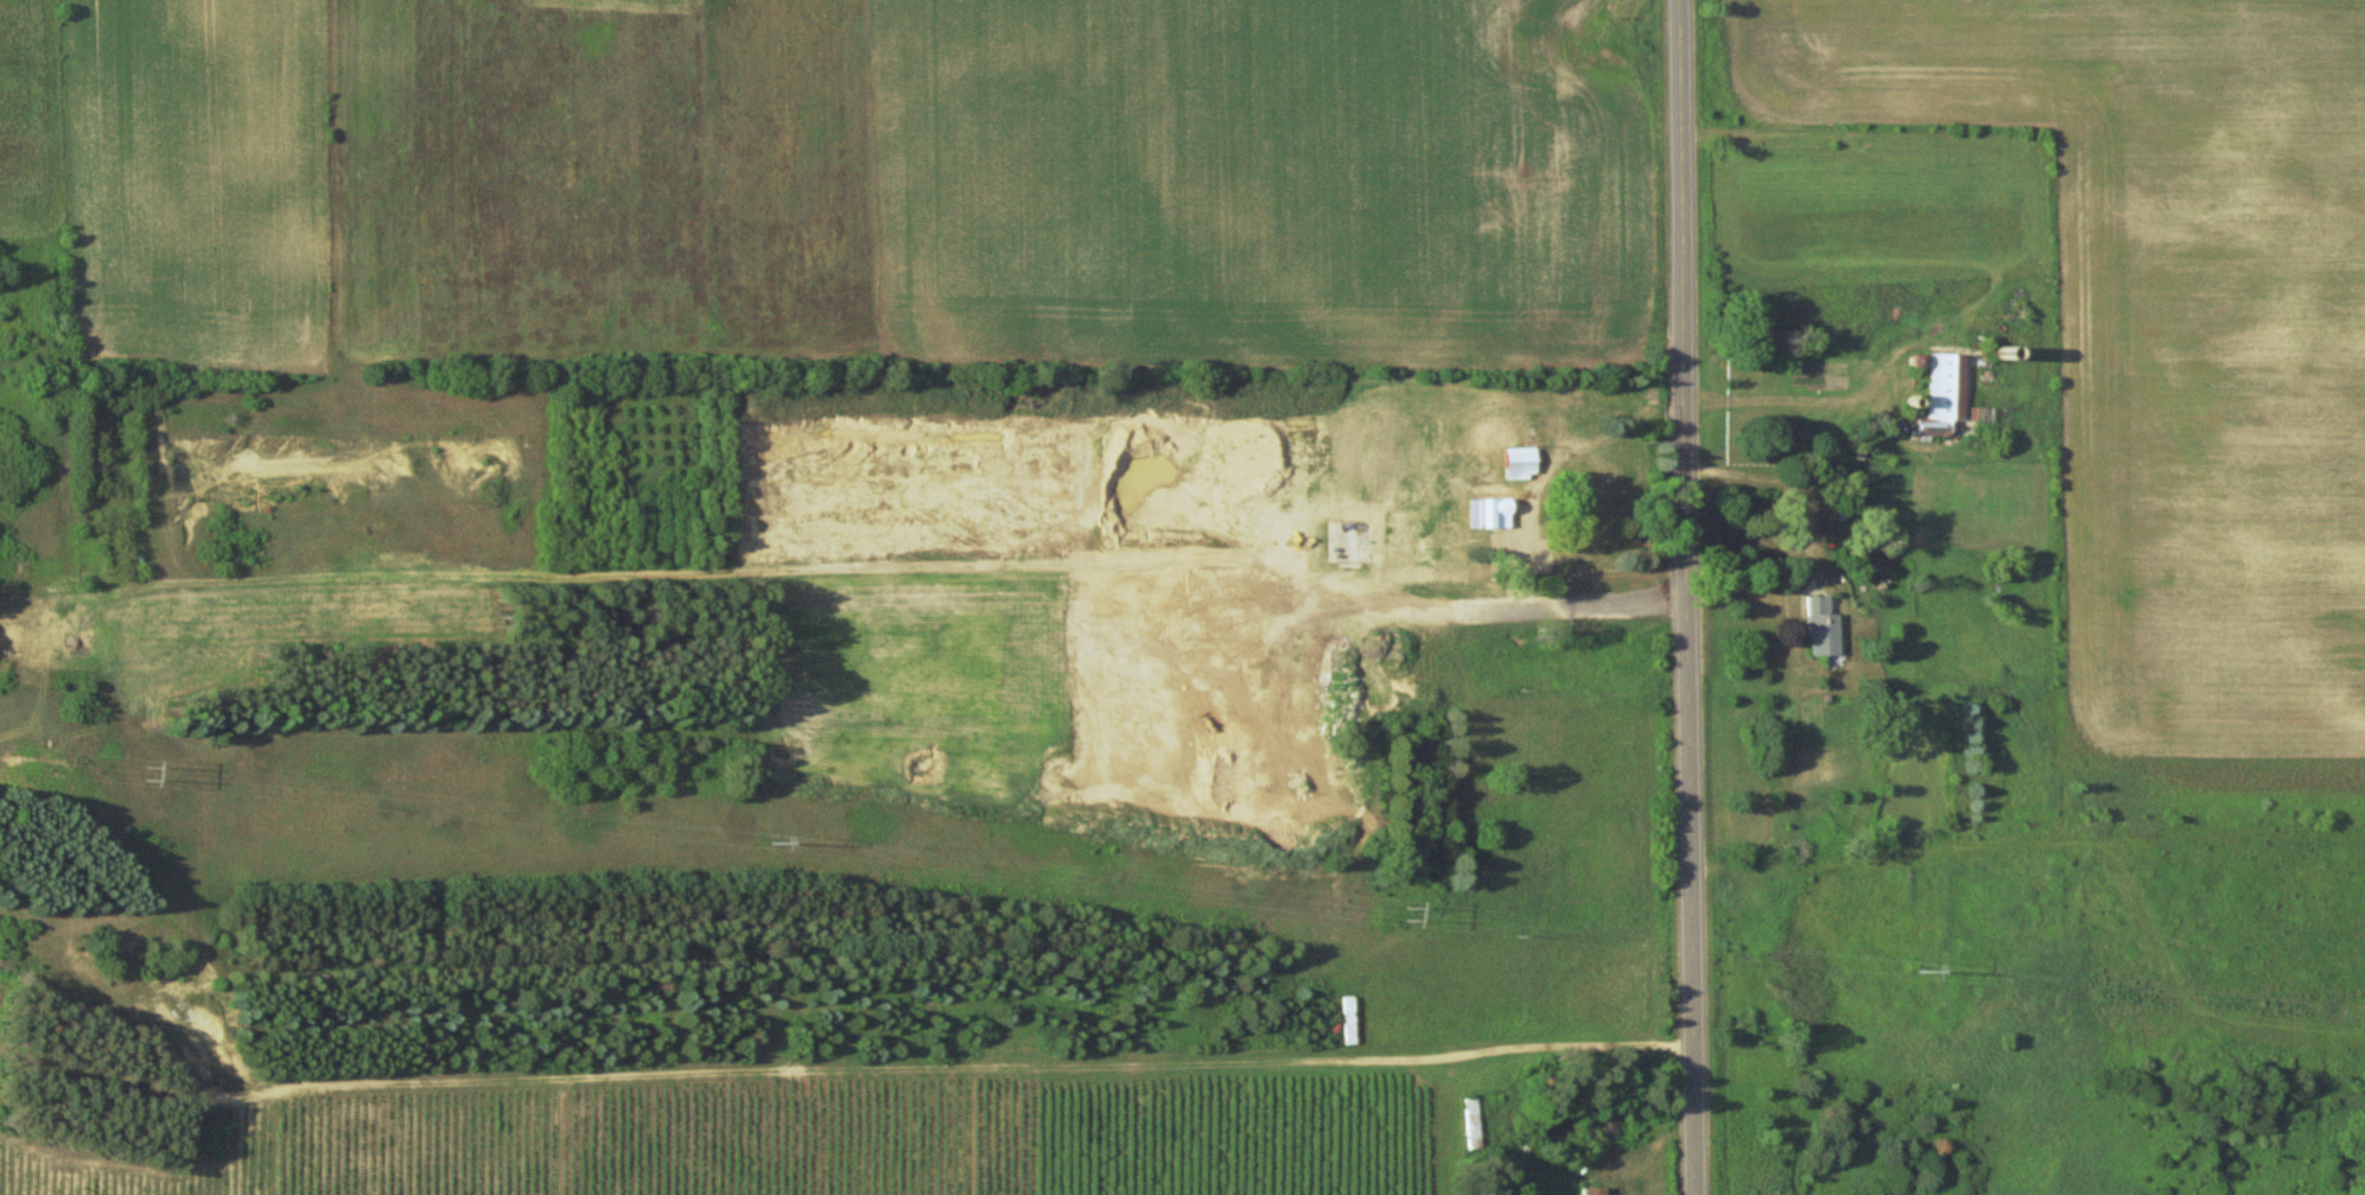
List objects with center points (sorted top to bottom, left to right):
building: (1944, 394)
building: (1520, 463)
road: (1778, 482)
building: (1489, 514)
road: (1689, 597)
building: (1822, 628)
power tower: (157, 774)
power tower: (783, 843)
power tower: (1417, 913)
power tower: (1932, 971)
building: (1591, 1190)

